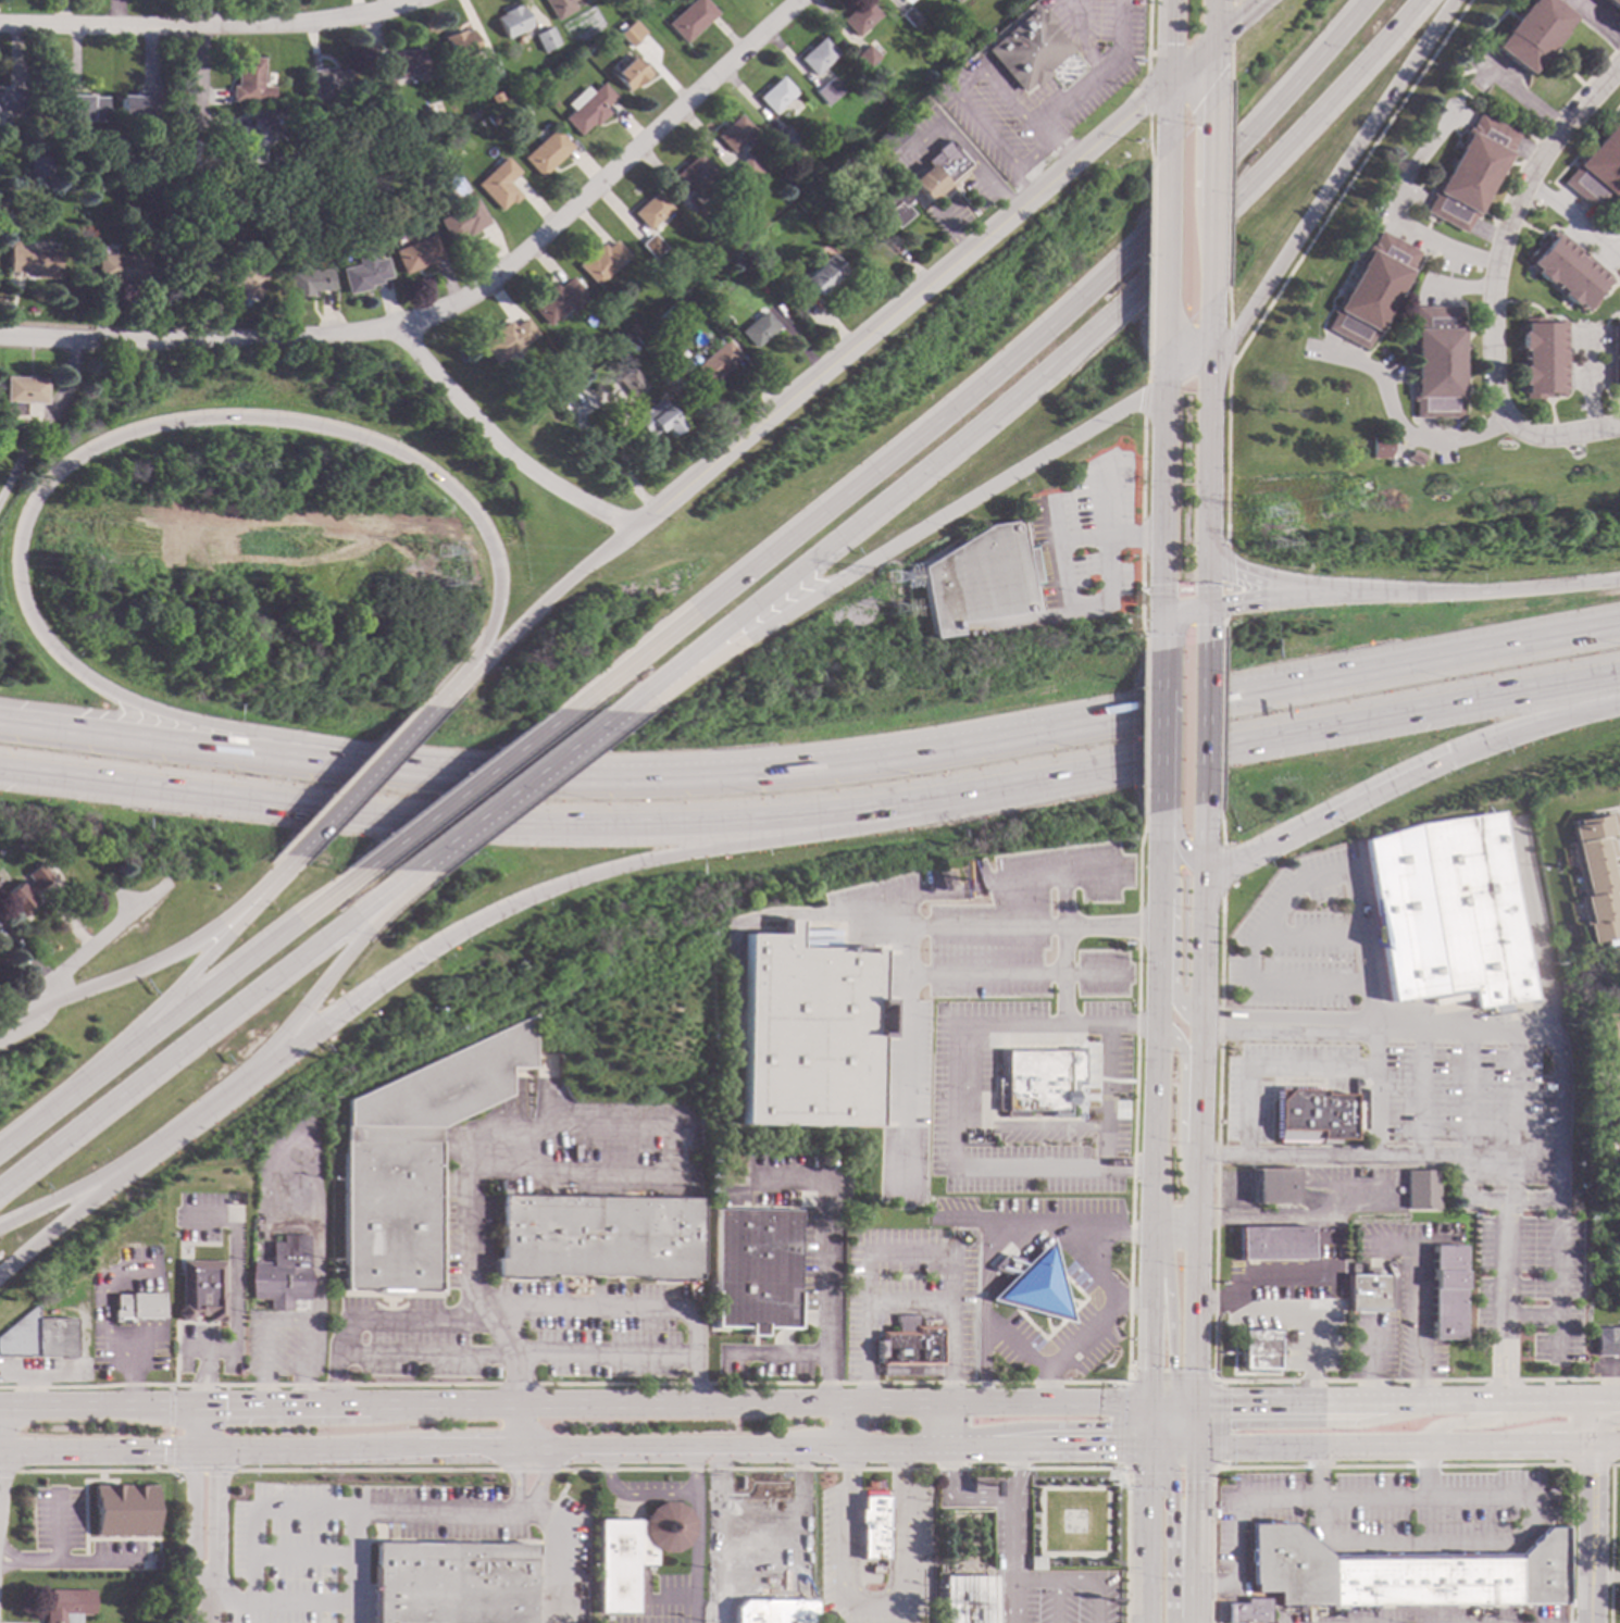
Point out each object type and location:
building: (957, 0)
building: (1615, 3)
building: (563, 7)
road: (1076, 11)
building: (910, 16)
building: (859, 17)
building: (691, 18)
road: (1237, 20)
road: (1596, 20)
building: (513, 21)
road: (1213, 21)
road: (1232, 21)
road: (205, 24)
building: (619, 26)
building: (632, 33)
building: (1532, 33)
road: (1148, 36)
building: (547, 38)
road: (1166, 39)
traffic signals: (1213, 41)
building: (461, 43)
building: (1029, 48)
road: (1084, 50)
building: (818, 55)
building: (867, 57)
road: (1189, 60)
road: (1230, 61)
road: (203, 62)
building: (408, 62)
road: (1213, 64)
road: (1565, 66)
building: (490, 70)
road: (1098, 71)
building: (631, 73)
building: (248, 78)
traffic signals: (1166, 79)
building: (384, 80)
building: (332, 82)
road: (1454, 82)
building: (828, 90)
road: (1148, 91)
building: (776, 95)
road: (1166, 96)
road: (1521, 96)
building: (11, 99)
road: (960, 101)
building: (139, 105)
building: (87, 108)
building: (588, 108)
building: (493, 117)
road: (936, 127)
road: (1543, 130)
building: (735, 134)
building: (890, 137)
road: (1148, 137)
building: (256, 138)
building: (787, 139)
road: (1052, 142)
road: (1212, 146)
building: (62, 152)
building: (547, 152)
building: (864, 160)
building: (39, 166)
building: (1597, 168)
building: (938, 171)
building: (747, 172)
building: (1471, 172)
building: (161, 175)
building: (697, 177)
building: (780, 179)
building: (297, 182)
building: (499, 184)
road: (1228, 184)
building: (161, 188)
road: (1619, 191)
road: (1415, 193)
road: (1323, 204)
building: (893, 208)
building: (652, 210)
road: (1600, 212)
road: (1393, 213)
building: (700, 215)
building: (463, 220)
road: (1573, 221)
road: (946, 232)
road: (1166, 232)
road: (1487, 232)
building: (216, 235)
road: (1575, 235)
building: (651, 246)
road: (1578, 246)
building: (418, 254)
road: (1303, 257)
road: (1604, 258)
building: (33, 261)
building: (601, 261)
building: (736, 261)
building: (660, 263)
road: (1212, 263)
building: (122, 267)
road: (1150, 269)
building: (1568, 270)
building: (364, 271)
building: (818, 277)
building: (246, 279)
building: (309, 282)
road: (1497, 284)
road: (1461, 287)
building: (1373, 289)
road: (1339, 291)
road: (1607, 291)
road: (1424, 295)
road: (1449, 297)
building: (559, 300)
road: (898, 303)
road: (454, 304)
road: (1228, 308)
road: (1393, 313)
road: (1570, 325)
building: (633, 329)
building: (758, 329)
building: (643, 338)
building: (508, 339)
road: (1587, 339)
road: (1230, 347)
road: (1077, 350)
building: (1616, 357)
building: (1543, 358)
building: (1438, 361)
building: (713, 363)
building: (649, 365)
road: (1410, 373)
road: (1588, 375)
road: (994, 378)
road: (1147, 378)
road: (1590, 382)
building: (632, 383)
road: (1469, 387)
building: (22, 389)
road: (1144, 398)
building: (657, 420)
road: (1209, 422)
road: (1397, 423)
road: (1428, 429)
road: (1449, 429)
road: (139, 432)
road: (1162, 445)
road: (501, 447)
building: (1382, 448)
building: (1416, 457)
road: (1105, 505)
power tower: (1271, 527)
road: (1134, 541)
road: (904, 542)
road: (1081, 545)
power tower: (1279, 555)
power tower: (444, 561)
road: (1206, 564)
building: (980, 577)
road: (1273, 578)
road: (1228, 580)
road: (1493, 587)
power tower: (893, 589)
road: (1184, 589)
power tower: (439, 590)
road: (551, 594)
road: (1160, 597)
road: (1316, 597)
road: (1234, 603)
road: (1067, 608)
power tower: (896, 614)
building: (995, 622)
road: (1175, 622)
road: (1206, 625)
road: (1420, 659)
road: (1159, 672)
road: (656, 684)
road: (456, 688)
road: (1536, 724)
road: (1204, 725)
road: (135, 734)
road: (1157, 751)
traffic signals: (1458, 756)
road: (747, 771)
road: (365, 783)
road: (473, 789)
road: (521, 791)
road: (1346, 806)
road: (814, 814)
road: (1172, 845)
building: (0, 852)
road: (681, 856)
road: (1155, 856)
road: (1220, 863)
road: (282, 872)
road: (1084, 872)
building: (1598, 874)
building: (27, 889)
road: (1059, 899)
building: (1447, 909)
road: (836, 910)
road: (981, 926)
road: (1152, 927)
building: (817, 929)
road: (1059, 931)
road: (1537, 932)
road: (1311, 933)
parking lot: (1294, 938)
road: (1361, 948)
road: (85, 954)
road: (1250, 956)
traffic signals: (425, 957)
road: (138, 970)
road: (1014, 973)
road: (329, 976)
road: (227, 977)
road: (177, 988)
road: (1169, 995)
building: (1619, 1007)
road: (336, 1021)
road: (207, 1028)
road: (1374, 1029)
building: (1613, 1032)
building: (803, 1033)
road: (899, 1050)
road: (1268, 1066)
building: (1035, 1082)
road: (1180, 1086)
road: (1373, 1091)
road: (1149, 1093)
road: (1421, 1093)
road: (1469, 1094)
road: (955, 1097)
road: (1104, 1098)
road: (1197, 1104)
parking lot: (1473, 1108)
parking lot: (1246, 1115)
building: (1312, 1115)
road: (1558, 1115)
road: (1513, 1116)
building: (1613, 1116)
road: (41, 1118)
road: (588, 1123)
road: (1029, 1125)
road: (1332, 1153)
building: (413, 1156)
road: (127, 1164)
road: (1349, 1184)
building: (1272, 1186)
building: (1422, 1188)
road: (1490, 1200)
road: (73, 1215)
road: (1285, 1222)
road: (1171, 1226)
road: (1125, 1229)
building: (600, 1235)
road: (1033, 1240)
building: (1274, 1244)
road: (906, 1253)
road: (827, 1256)
road: (1008, 1264)
road: (1091, 1271)
building: (756, 1272)
road: (1104, 1272)
building: (284, 1273)
parking lot: (1531, 1279)
road: (1557, 1281)
road: (1278, 1283)
building: (1031, 1284)
road: (148, 1285)
road: (238, 1285)
building: (1447, 1291)
parking lot: (1407, 1293)
building: (1369, 1294)
building: (196, 1296)
road: (1423, 1296)
road: (907, 1299)
road: (1505, 1299)
road: (1133, 1301)
road: (105, 1304)
building: (138, 1307)
road: (148, 1308)
road: (608, 1308)
road: (1293, 1309)
road: (1170, 1312)
road: (1145, 1314)
road: (1531, 1316)
road: (377, 1319)
road: (288, 1320)
road: (983, 1331)
building: (38, 1336)
building: (1607, 1341)
building: (910, 1343)
road: (142, 1344)
parking lot: (1371, 1348)
building: (1257, 1349)
road: (627, 1354)
road: (776, 1354)
road: (425, 1356)
road: (1372, 1360)
road: (265, 1362)
road: (307, 1366)
road: (205, 1369)
traffic signals: (1145, 1369)
traffic signals: (1171, 1369)
road: (132, 1379)
road: (513, 1379)
road: (1045, 1386)
road: (946, 1390)
road: (867, 1391)
road: (1606, 1399)
road: (1507, 1400)
traffic signals: (1145, 1401)
road: (1158, 1401)
road: (1182, 1401)
road: (1251, 1401)
road: (1366, 1401)
road: (828, 1402)
traffic signals: (1194, 1402)
traffic signals: (1229, 1402)
road: (440, 1403)
road: (100, 1404)
road: (285, 1404)
traffic signals: (202, 1406)
road: (1172, 1408)
road: (1183, 1408)
road: (1155, 1409)
road: (1144, 1412)
road: (1309, 1412)
road: (1194, 1413)
road: (1168, 1416)
road: (1368, 1420)
road: (1175, 1421)
road: (1485, 1421)
road: (1592, 1421)
road: (1152, 1422)
road: (840, 1424)
road: (946, 1424)
traffic signals: (1228, 1424)
road: (1251, 1424)
road: (1163, 1425)
road: (513, 1426)
road: (1043, 1426)
traffic signals: (1108, 1426)
road: (1185, 1426)
road: (202, 1428)
road: (1171, 1428)
road: (1143, 1435)
road: (1194, 1435)
road: (1167, 1437)
road: (1183, 1437)
road: (1154, 1438)
road: (1606, 1443)
road: (1393, 1444)
road: (1156, 1445)
road: (1181, 1445)
traffic signals: (1194, 1445)
road: (1044, 1446)
traffic signals: (1111, 1446)
traffic signals: (1143, 1446)
road: (728, 1448)
road: (205, 1450)
road: (463, 1450)
traffic signals: (202, 1451)
road: (1426, 1471)
road: (1316, 1472)
traffic signals: (1193, 1482)
traffic signals: (1168, 1487)
road: (956, 1495)
road: (653, 1496)
parking lot: (1386, 1503)
road: (518, 1507)
road: (1106, 1507)
road: (252, 1508)
building: (122, 1510)
road: (433, 1511)
building: (1212, 1512)
fountain: (970, 1515)
road: (1237, 1522)
parking lot: (1020, 1525)
building: (874, 1526)
road: (1525, 1530)
road: (58, 1531)
road: (1192, 1533)
road: (1591, 1533)
road: (1007, 1534)
road: (1143, 1534)
road: (718, 1535)
road: (1168, 1535)
road: (561, 1550)
building: (635, 1551)
road: (800, 1551)
road: (696, 1555)
road: (299, 1558)
parking lot: (282, 1559)
road: (67, 1563)
building: (1034, 1563)
road: (350, 1565)
building: (876, 1570)
building: (1401, 1573)
road: (202, 1578)
road: (1070, 1581)
building: (448, 1584)
building: (1619, 1597)
parking lot: (1067, 1598)
building: (967, 1600)
road: (204, 1601)
road: (1054, 1601)
road: (226, 1602)
road: (299, 1603)
building: (65, 1605)
road: (872, 1606)
building: (1246, 1611)
building: (770, 1612)

